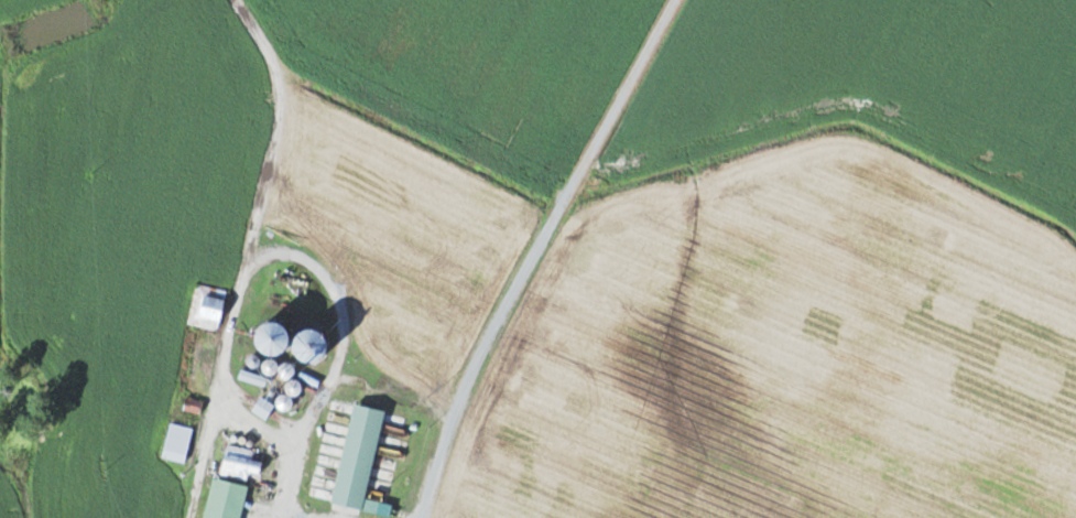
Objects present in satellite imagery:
building: (207, 307)
building: (264, 342)
building: (301, 348)
building: (251, 379)
building: (193, 404)
building: (261, 409)
building: (177, 443)
building: (357, 457)
building: (241, 464)
building: (225, 500)

